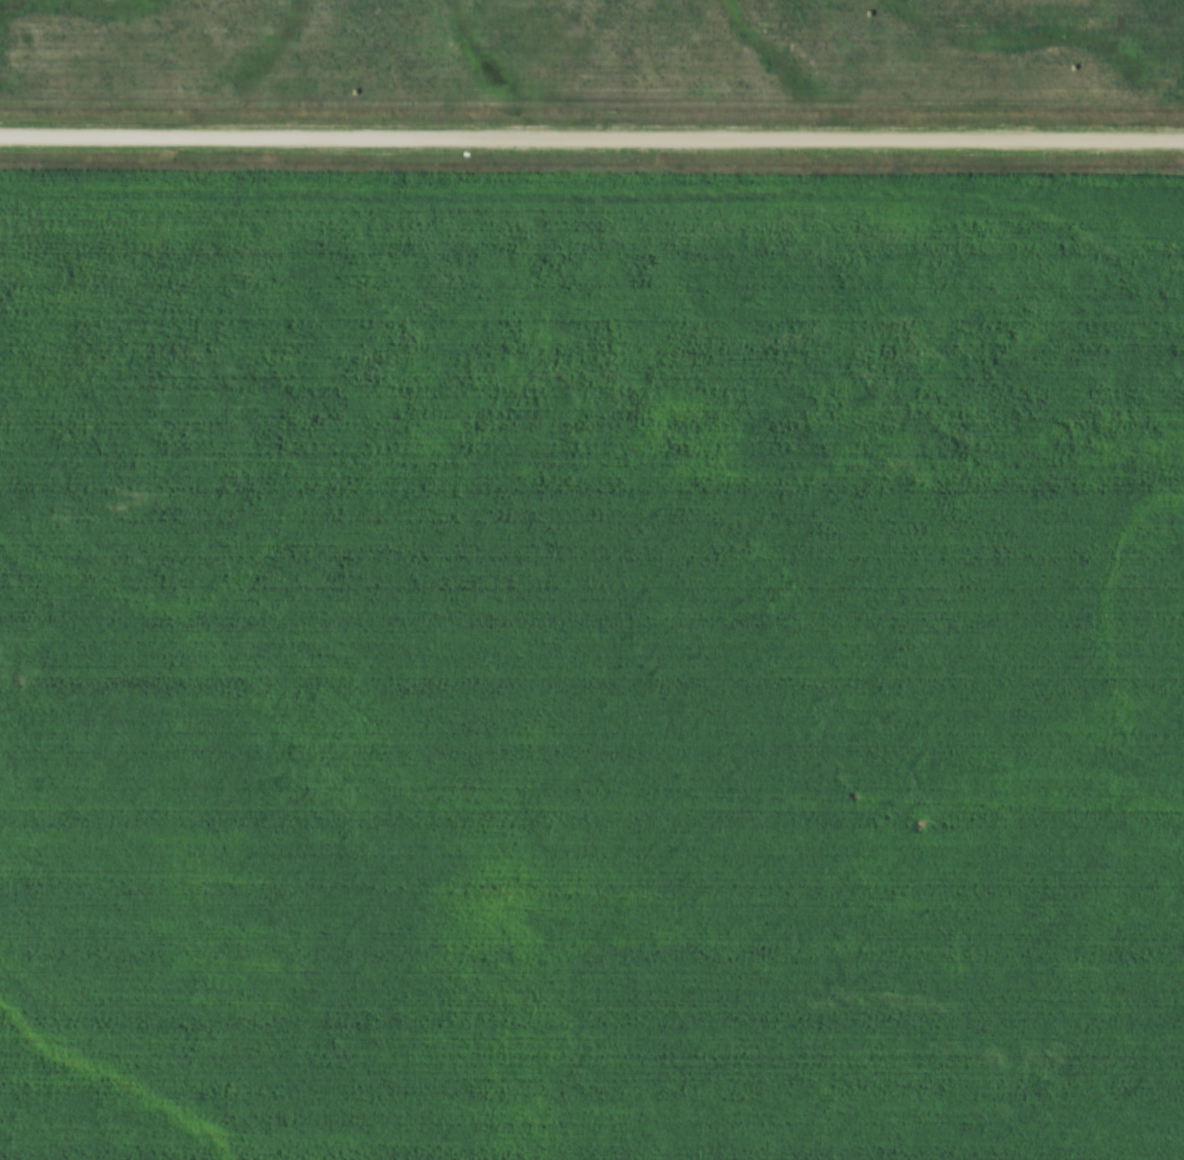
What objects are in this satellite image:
road: (592, 130)

